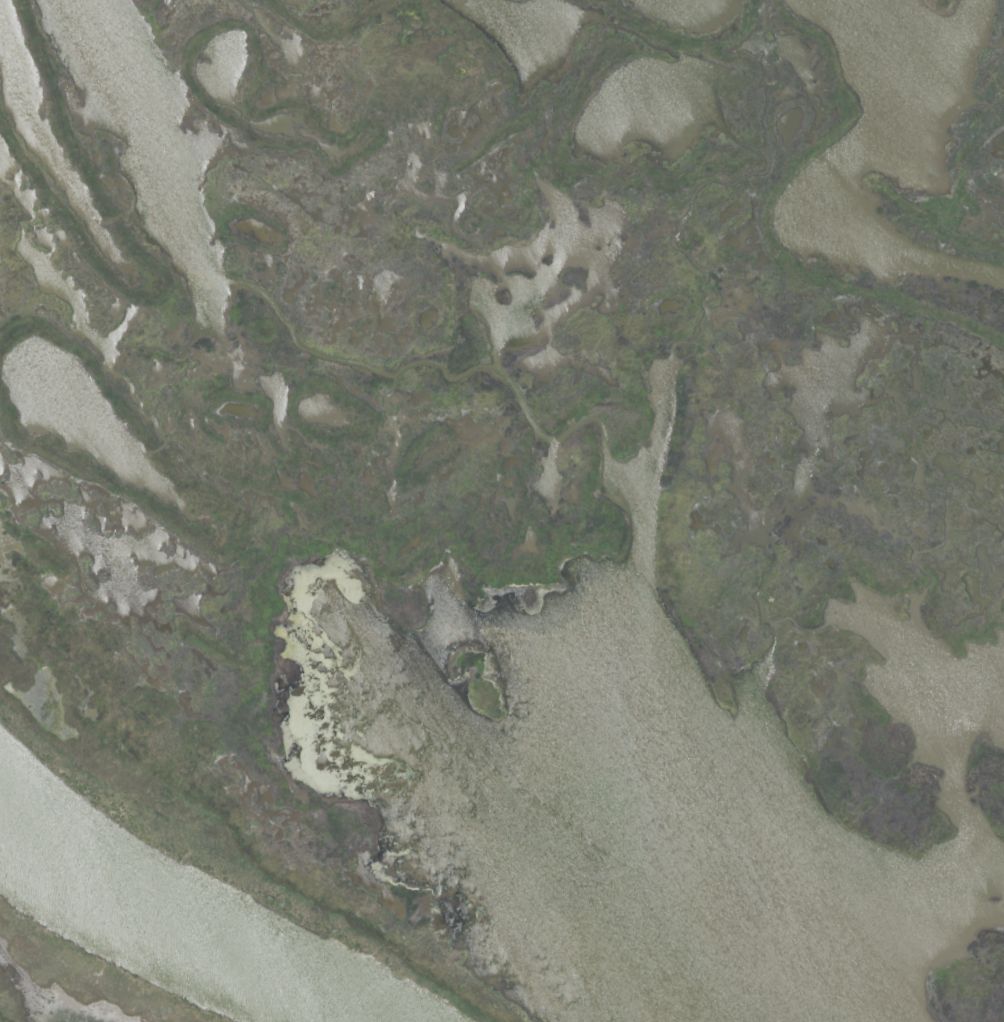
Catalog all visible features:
river: (173, 930)

